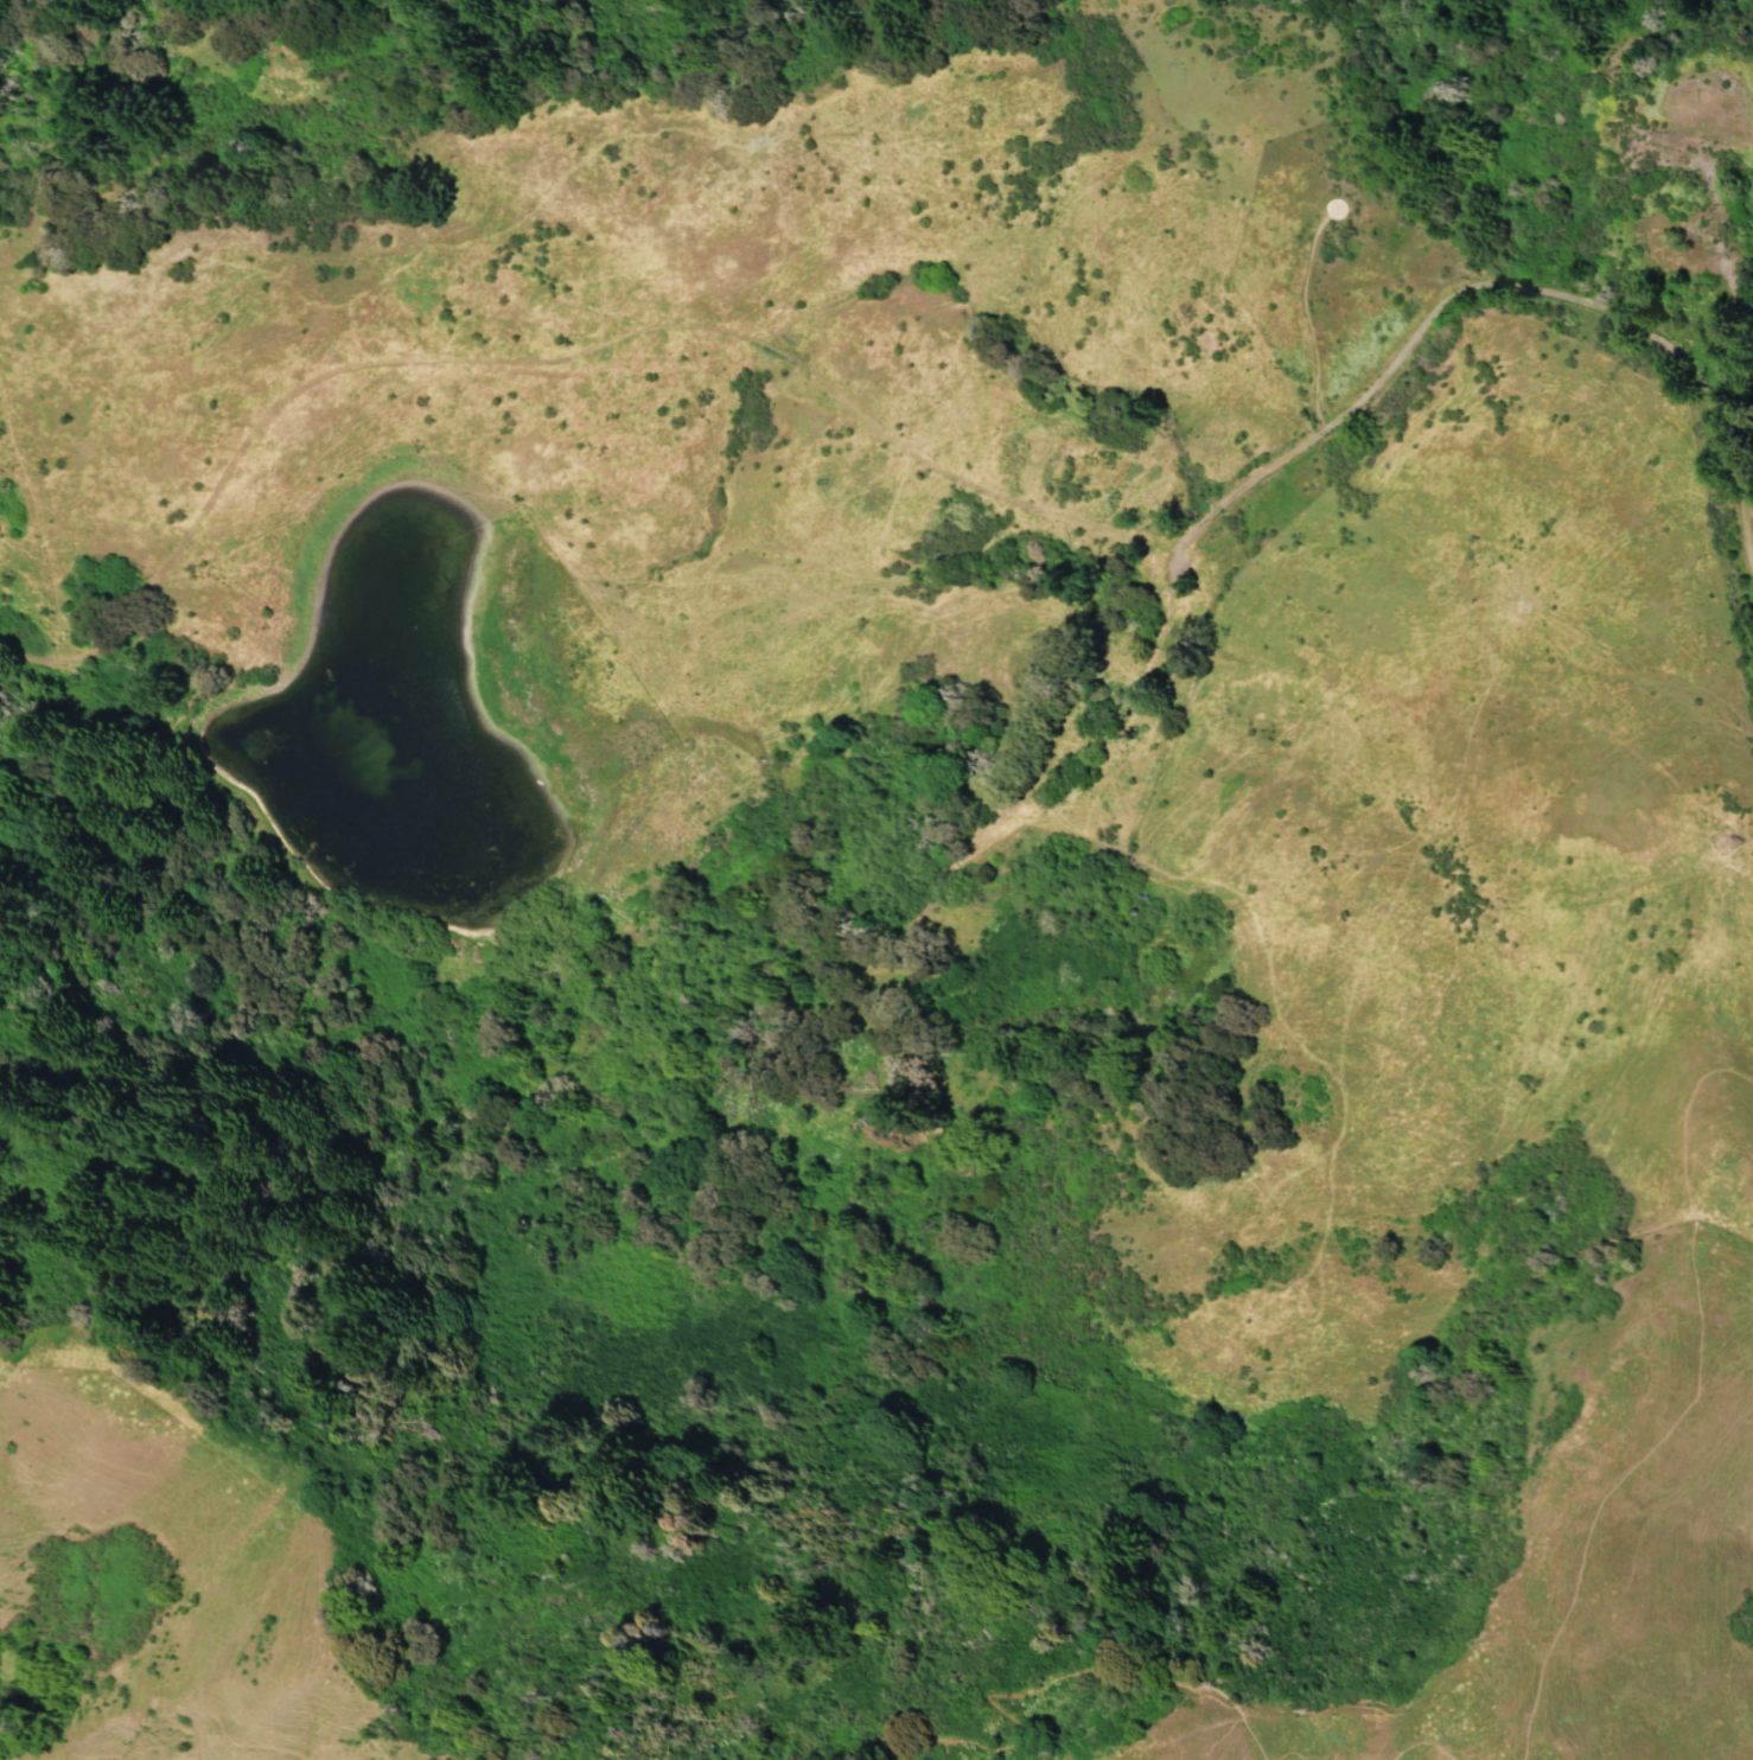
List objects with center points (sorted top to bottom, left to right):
road: (1339, 209)
road: (1605, 306)
road: (1305, 320)
road: (531, 346)
road: (1729, 372)
road: (1241, 485)
road: (1150, 542)
road: (1200, 565)
road: (1249, 566)
road: (1168, 599)
road: (1040, 783)
road: (1685, 1409)
road: (1018, 1692)
road: (1422, 1740)
road: (1289, 1751)

